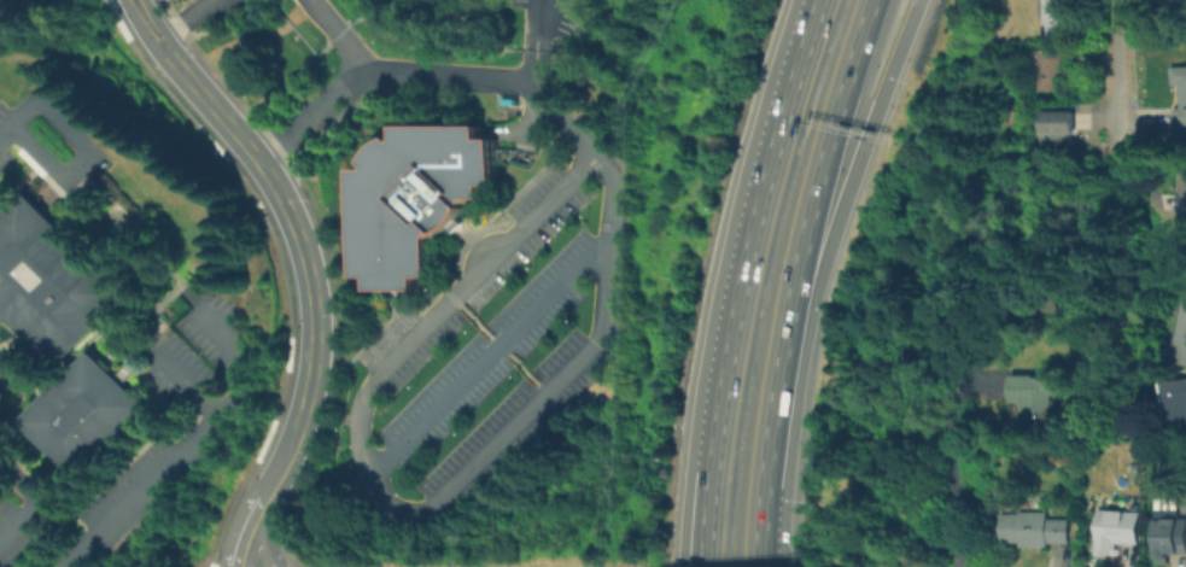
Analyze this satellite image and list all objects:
building: (1061, 14)
road: (156, 23)
road: (188, 24)
road: (537, 25)
road: (547, 25)
road: (136, 27)
road: (340, 33)
road: (528, 66)
building: (1061, 72)
road: (1118, 77)
building: (1182, 92)
road: (316, 106)
road: (4, 125)
road: (326, 125)
building: (1063, 130)
road: (88, 158)
building: (1185, 189)
building: (419, 199)
road: (756, 201)
road: (286, 211)
road: (818, 268)
road: (793, 269)
building: (51, 280)
building: (1182, 335)
road: (486, 351)
building: (1036, 394)
building: (1173, 404)
building: (83, 415)
road: (491, 443)
road: (282, 455)
road: (173, 458)
road: (956, 460)
road: (702, 469)
road: (709, 477)
road: (258, 499)
road: (34, 502)
building: (1169, 530)
building: (1036, 531)
road: (241, 533)
building: (1117, 533)
road: (265, 536)
road: (685, 549)
road: (702, 556)
road: (755, 556)

